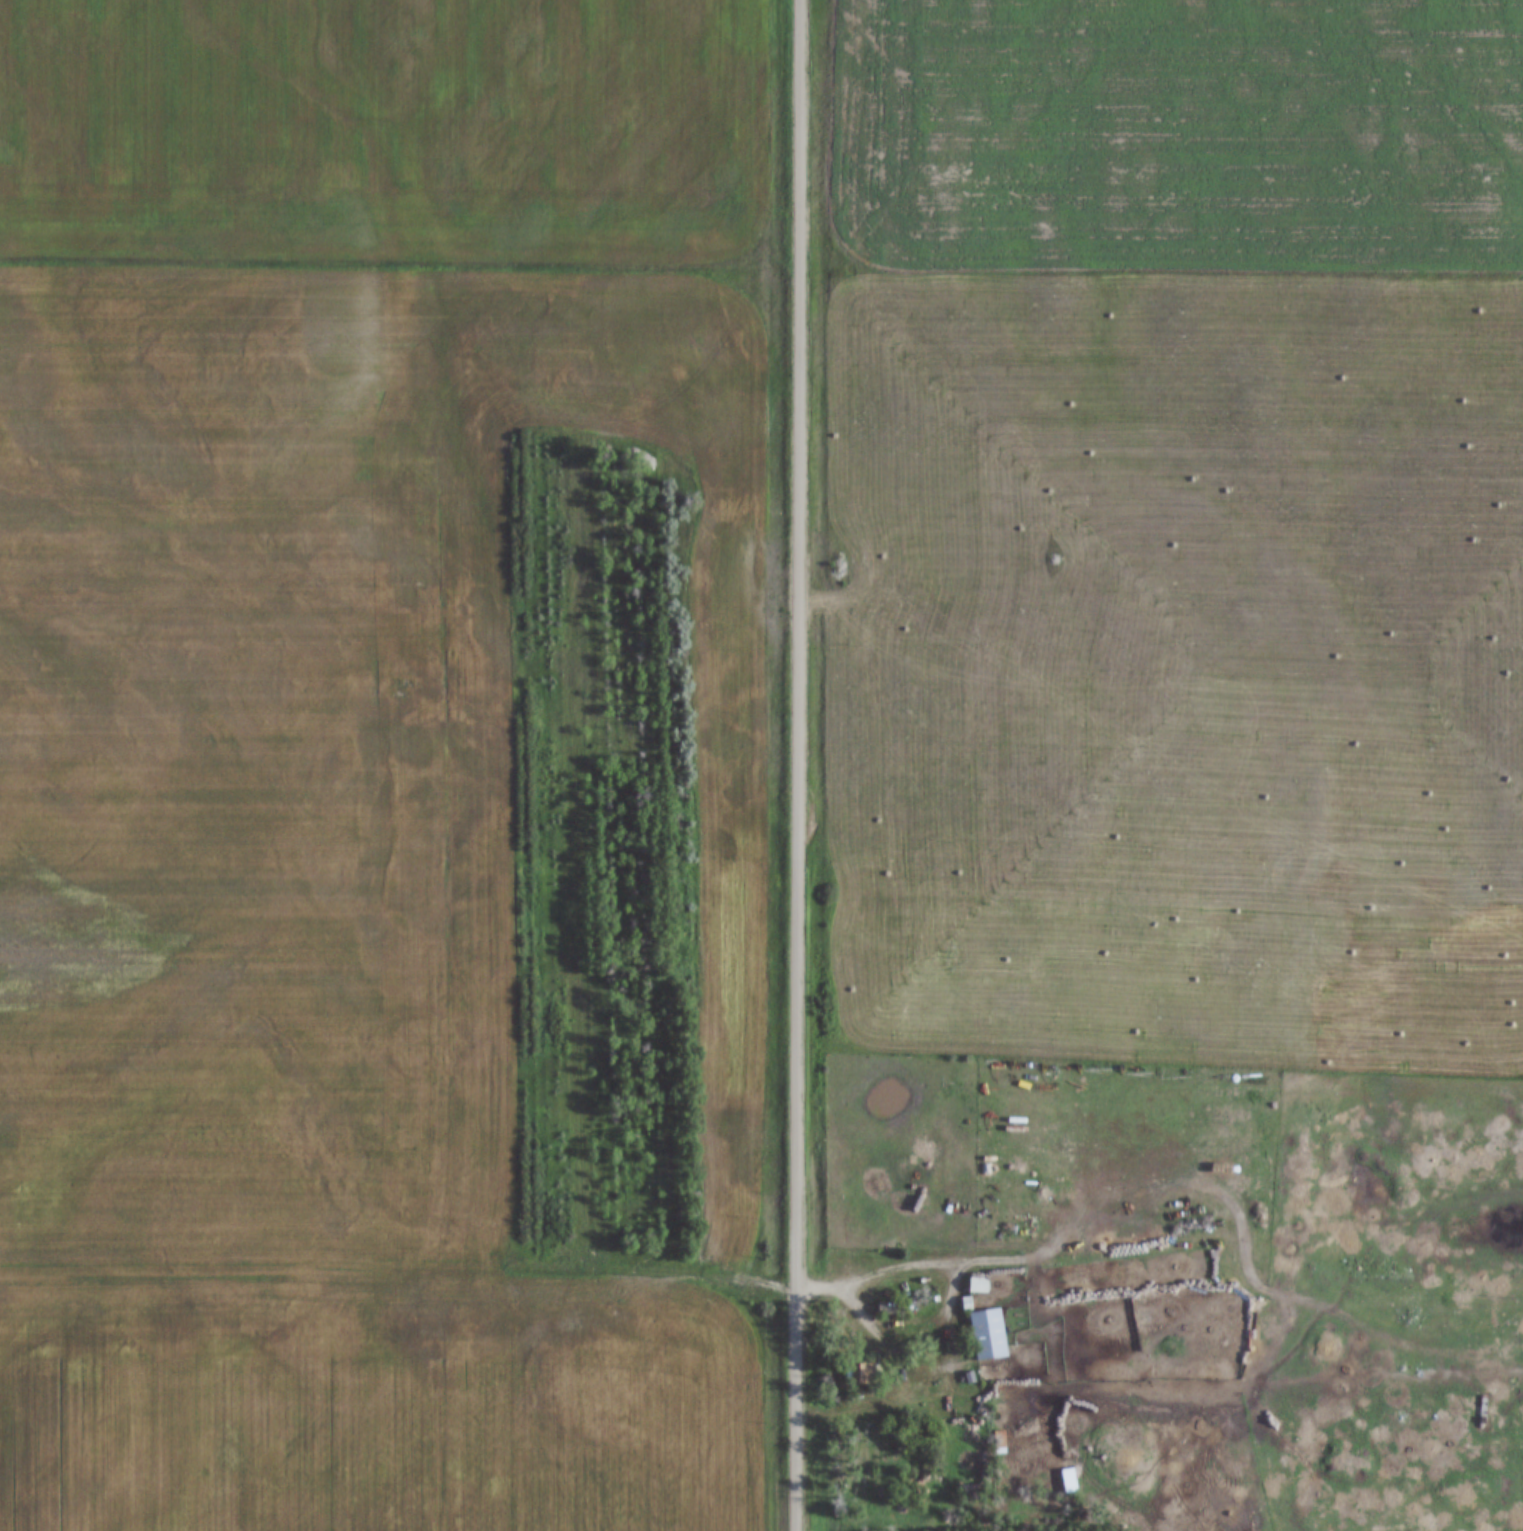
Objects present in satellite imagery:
road: (798, 765)
road: (397, 1265)
road: (945, 1267)
building: (979, 1284)
building: (989, 1334)
building: (866, 1373)
building: (1431, 1381)
road: (1200, 1384)

